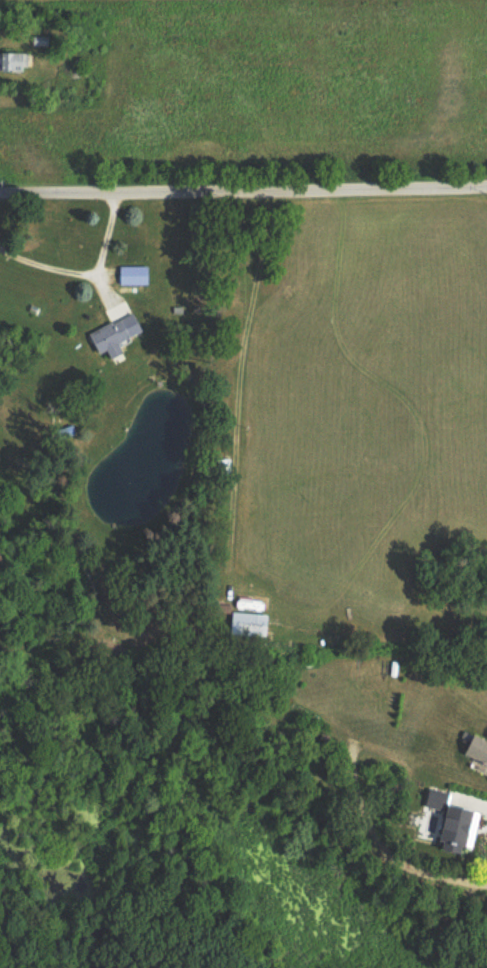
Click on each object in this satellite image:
building: (13, 60)
road: (243, 193)
building: (131, 273)
building: (111, 333)
building: (245, 622)
building: (474, 748)
building: (450, 823)

